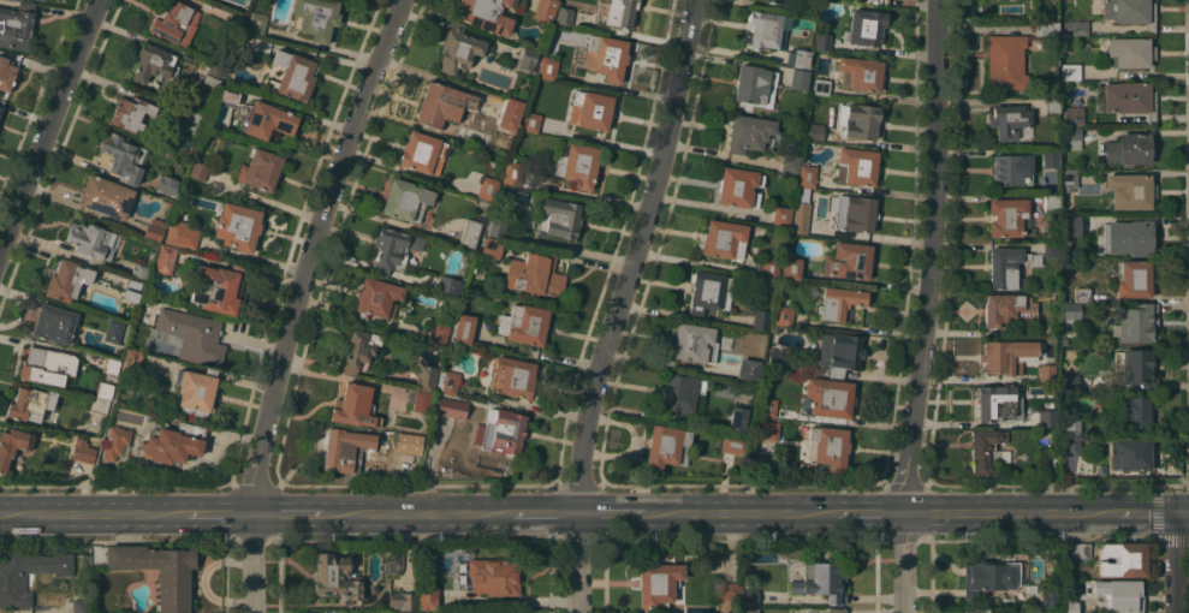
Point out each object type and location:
building: (1052, 0)
building: (771, 1)
building: (876, 1)
building: (654, 2)
building: (543, 10)
building: (619, 12)
building: (1130, 12)
building: (484, 14)
building: (564, 16)
building: (1045, 16)
building: (315, 17)
building: (234, 22)
building: (174, 23)
building: (256, 24)
building: (16, 25)
building: (1074, 28)
building: (765, 29)
building: (866, 29)
building: (1044, 29)
building: (822, 41)
building: (252, 47)
building: (458, 48)
building: (1129, 52)
building: (606, 56)
building: (798, 58)
building: (527, 59)
building: (1005, 61)
building: (153, 63)
building: (547, 67)
building: (1070, 71)
building: (213, 73)
building: (862, 73)
building: (6, 75)
building: (292, 75)
building: (798, 79)
building: (754, 87)
building: (820, 87)
building: (228, 96)
building: (1131, 99)
building: (0, 102)
building: (441, 105)
building: (1051, 105)
building: (590, 109)
building: (130, 113)
building: (510, 114)
building: (1071, 115)
building: (267, 120)
building: (1009, 120)
building: (530, 121)
building: (861, 121)
building: (192, 123)
road: (49, 129)
building: (748, 132)
building: (814, 132)
building: (1072, 137)
building: (1129, 148)
building: (422, 153)
building: (121, 156)
building: (1048, 157)
building: (790, 162)
building: (577, 163)
building: (856, 166)
building: (260, 168)
building: (198, 169)
building: (1010, 169)
building: (513, 171)
building: (807, 175)
building: (1068, 178)
building: (166, 184)
building: (487, 188)
building: (738, 188)
building: (1130, 191)
building: (106, 196)
building: (406, 200)
building: (1051, 202)
building: (170, 203)
building: (799, 210)
building: (855, 213)
building: (780, 215)
building: (558, 218)
building: (1009, 218)
building: (1077, 222)
building: (497, 224)
building: (238, 226)
building: (154, 230)
building: (469, 232)
building: (180, 234)
building: (1134, 234)
building: (90, 239)
building: (724, 239)
building: (491, 246)
building: (392, 249)
building: (180, 250)
building: (1051, 250)
road: (311, 251)
road: (935, 255)
building: (165, 258)
building: (848, 261)
building: (763, 267)
building: (790, 267)
building: (1005, 267)
building: (139, 269)
building: (534, 274)
building: (66, 279)
building: (1134, 279)
building: (448, 285)
building: (218, 287)
building: (132, 290)
building: (709, 291)
building: (1082, 294)
building: (376, 298)
building: (839, 302)
road: (619, 304)
building: (1005, 309)
building: (1070, 310)
building: (783, 315)
building: (760, 319)
building: (1137, 322)
building: (53, 323)
building: (523, 323)
building: (464, 328)
building: (113, 329)
building: (438, 333)
building: (192, 335)
building: (694, 343)
building: (358, 351)
building: (838, 352)
building: (997, 356)
building: (132, 357)
building: (777, 361)
building: (47, 365)
building: (111, 365)
building: (1136, 368)
building: (748, 369)
building: (512, 376)
building: (426, 377)
building: (448, 381)
building: (1070, 381)
building: (195, 391)
building: (679, 392)
building: (100, 397)
building: (827, 397)
building: (421, 400)
building: (995, 401)
building: (29, 404)
building: (351, 406)
building: (766, 406)
building: (451, 407)
building: (1132, 411)
building: (737, 418)
building: (1046, 418)
building: (1069, 422)
building: (500, 430)
building: (765, 430)
building: (399, 440)
building: (114, 441)
building: (173, 442)
building: (733, 444)
building: (12, 445)
building: (666, 446)
building: (830, 446)
building: (1070, 446)
building: (343, 447)
building: (82, 451)
building: (985, 451)
building: (1129, 453)
building: (1047, 462)
building: (1101, 470)
road: (213, 510)
road: (290, 510)
road: (868, 510)
road: (1006, 510)
road: (1149, 510)
traffic signals: (1178, 510)
road: (418, 511)
road: (738, 511)
road: (90, 512)
road: (542, 512)
road: (614, 512)
road: (0, 514)
building: (1074, 550)
building: (1122, 559)
road: (904, 560)
road: (246, 561)
road: (1178, 561)
building: (159, 571)
building: (493, 576)
building: (334, 577)
building: (985, 577)
building: (827, 581)
building: (656, 582)
building: (12, 583)
building: (727, 590)
building: (1119, 594)
building: (749, 596)
building: (427, 597)
building: (1048, 599)
building: (403, 600)
building: (79, 606)
building: (1069, 606)
building: (750, 609)
building: (837, 611)
building: (1051, 611)
building: (404, 612)

